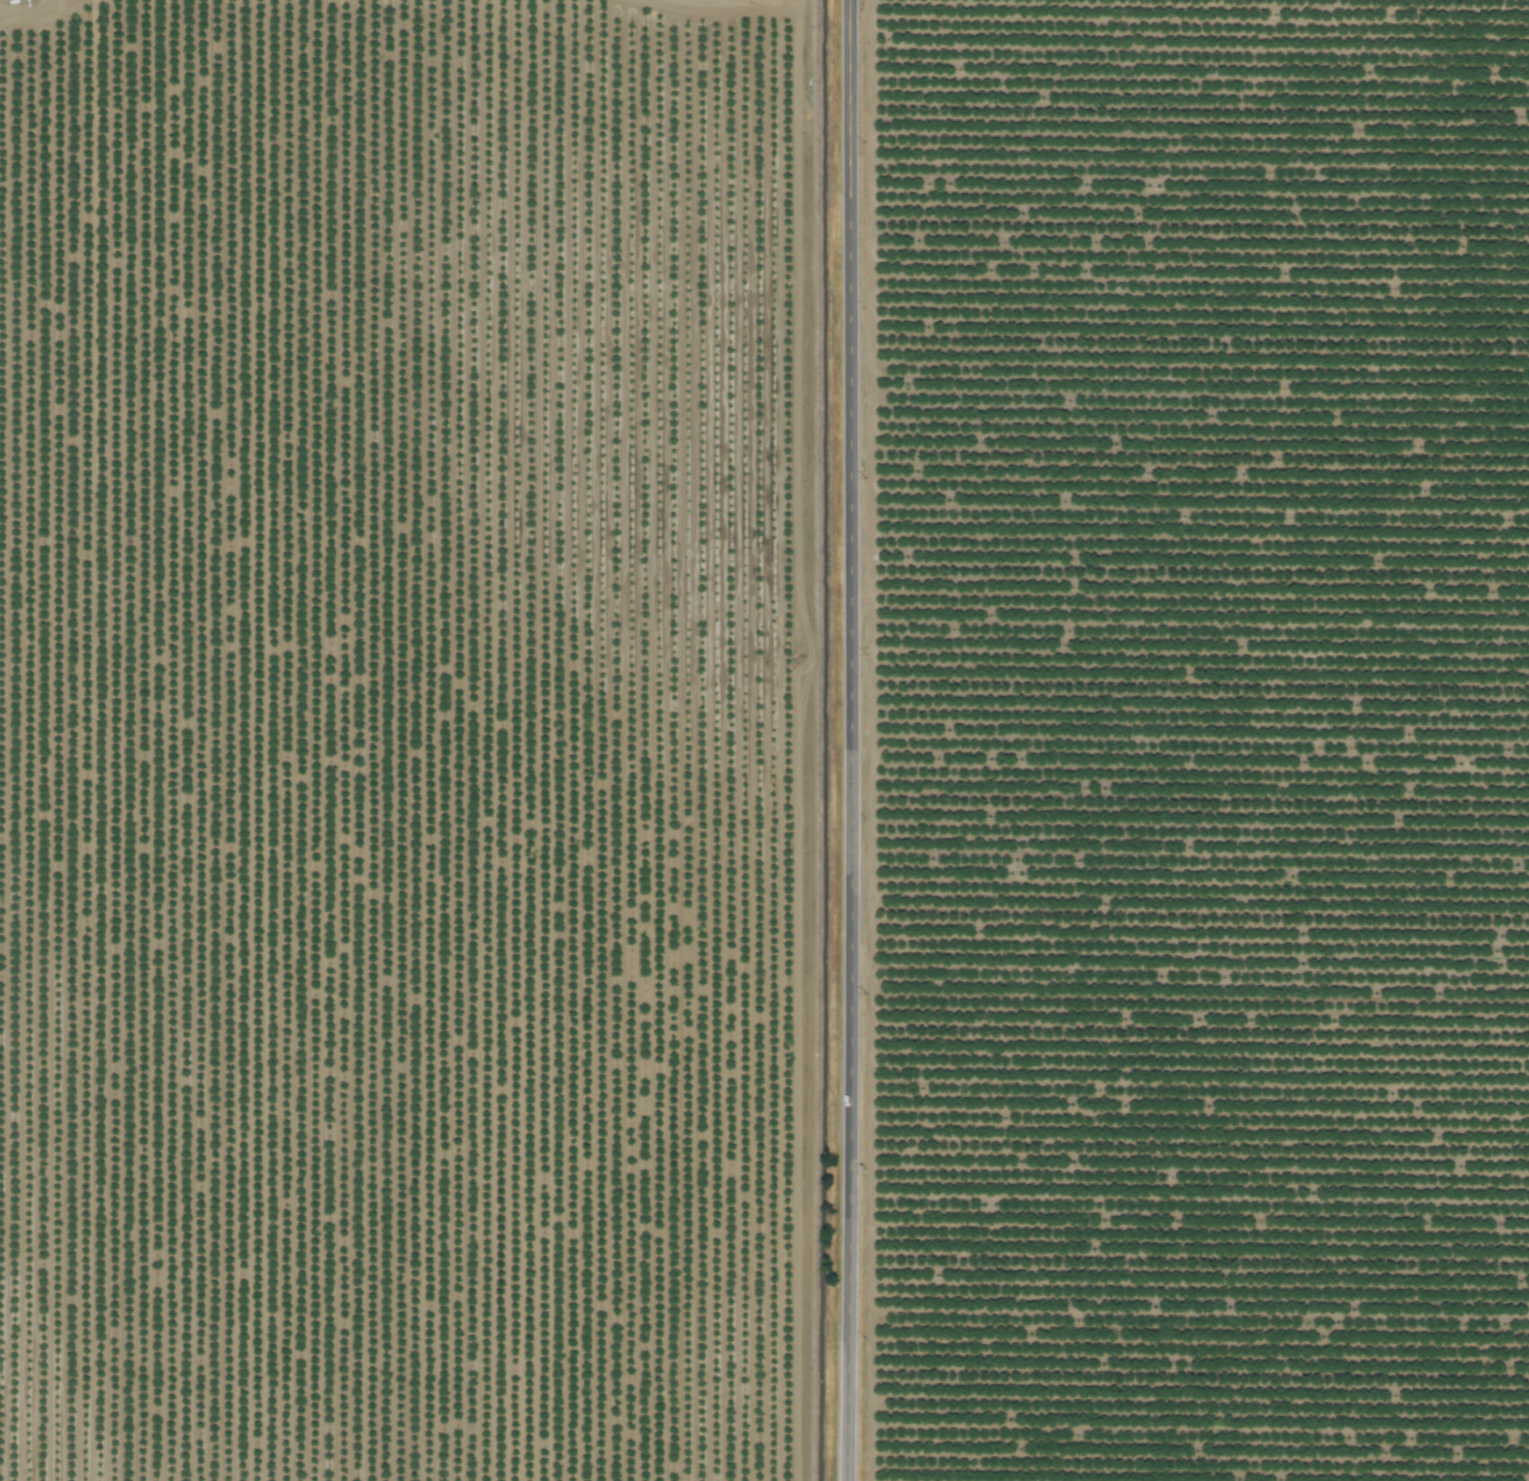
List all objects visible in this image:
road: (849, 740)

